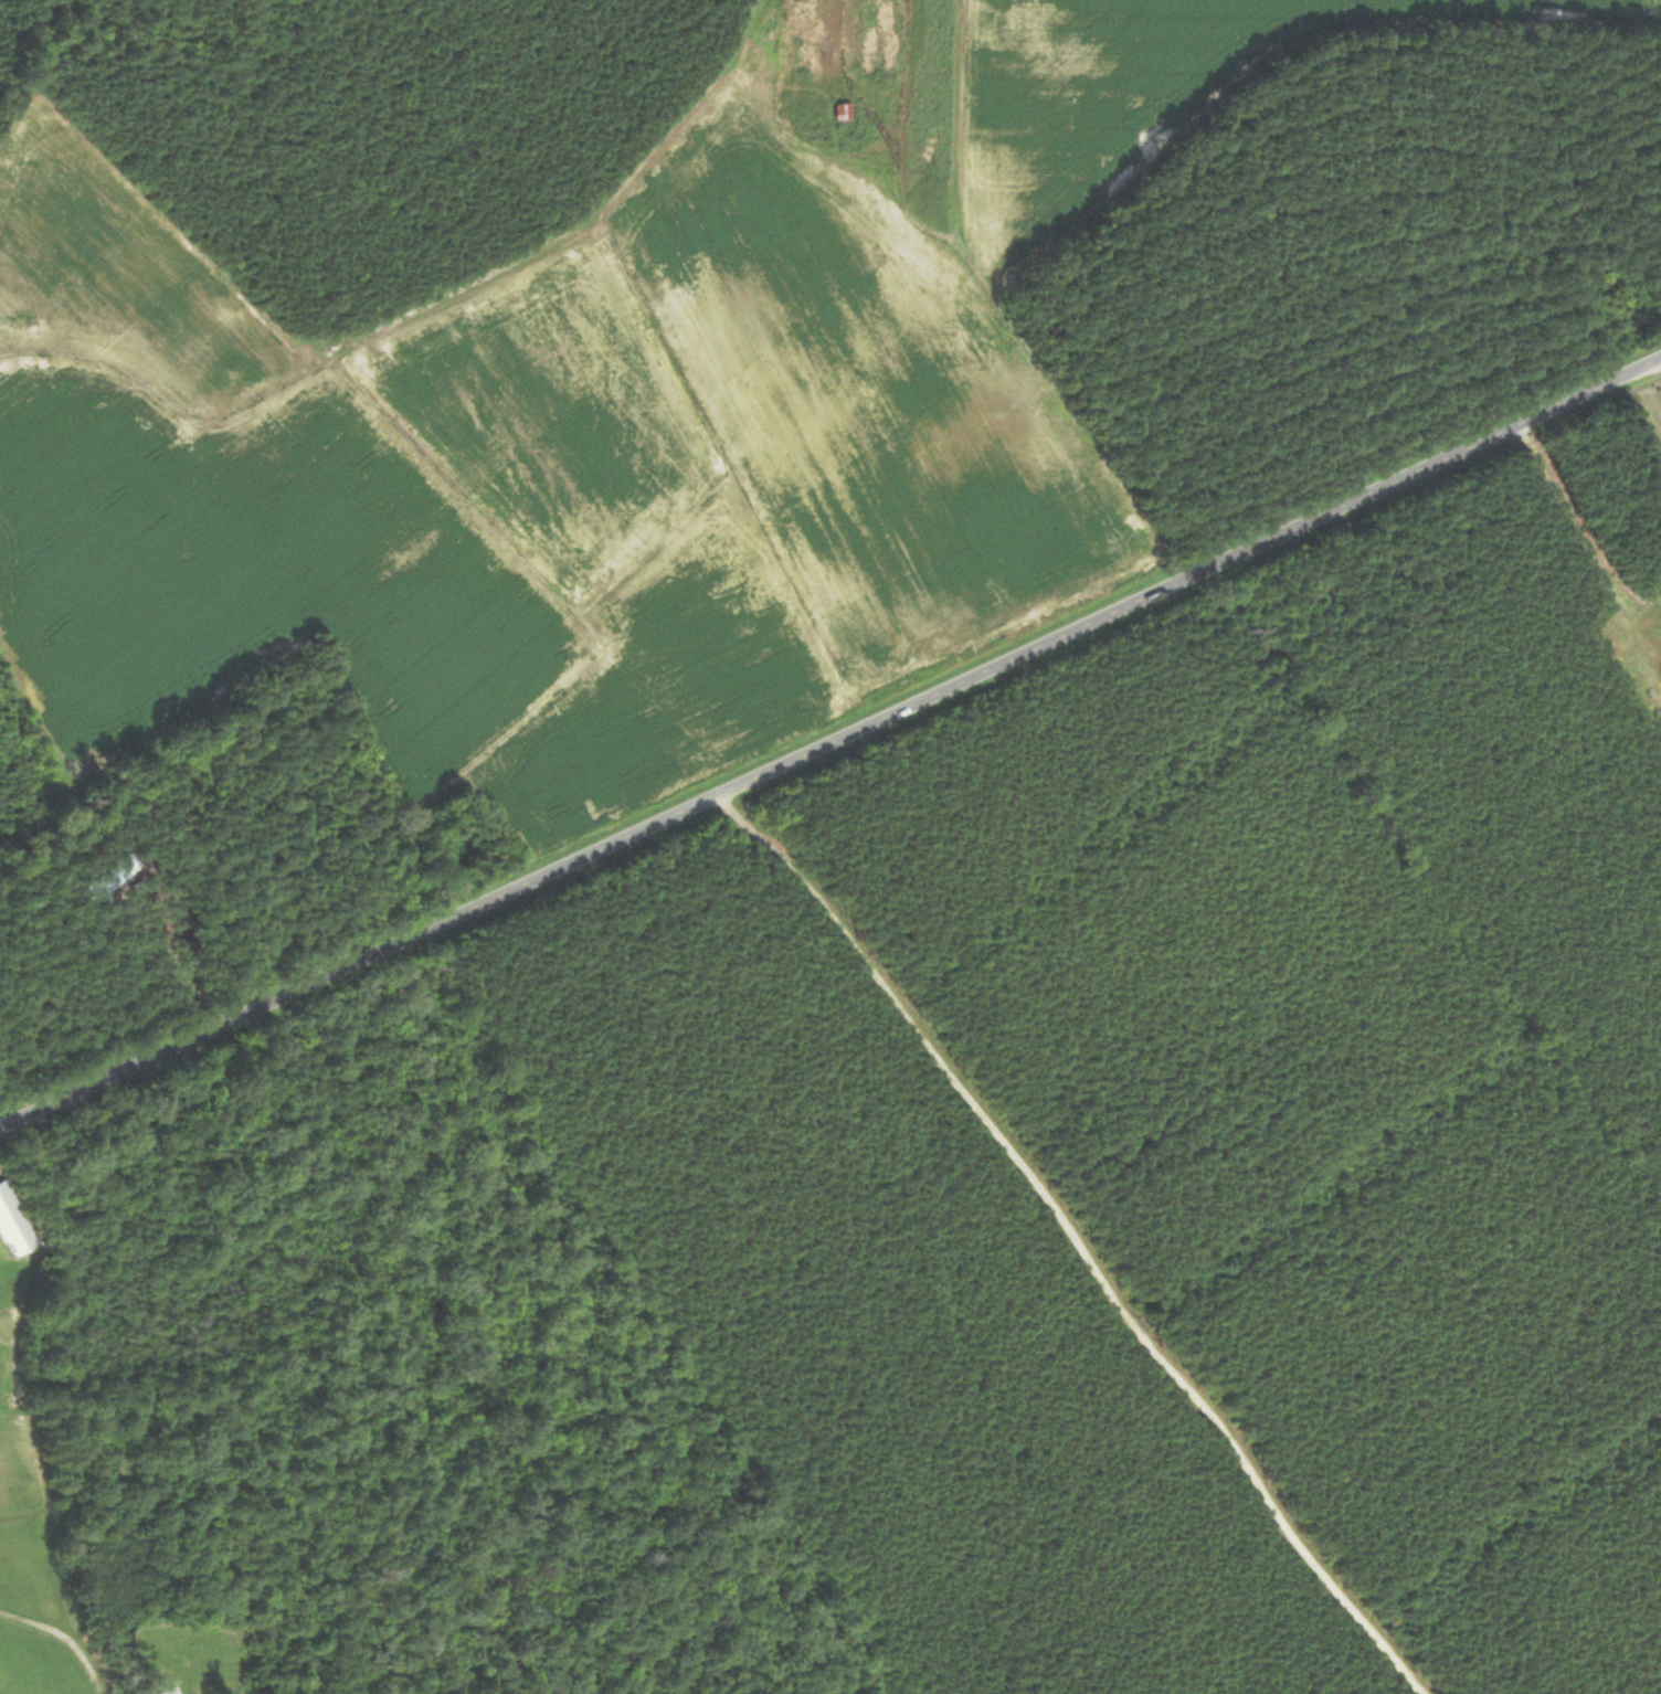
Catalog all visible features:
building: (838, 112)
road: (830, 743)
road: (15, 1220)
building: (11, 1226)
road: (1072, 1242)
road: (66, 1419)
building: (167, 1692)

